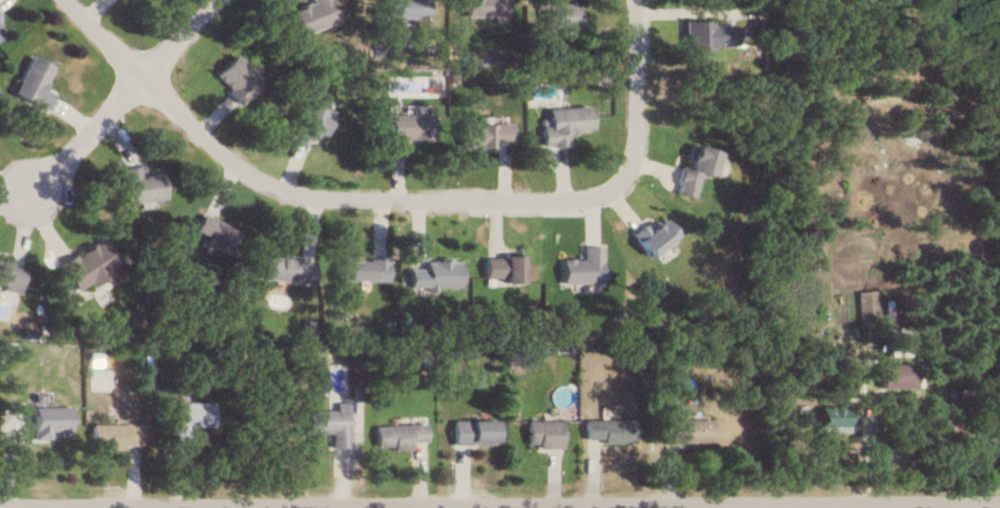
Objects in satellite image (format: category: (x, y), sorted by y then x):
building: (483, 7)
building: (403, 8)
building: (557, 12)
building: (311, 14)
building: (0, 29)
building: (707, 33)
building: (235, 77)
building: (31, 82)
road: (115, 99)
road: (631, 99)
building: (310, 120)
building: (562, 123)
building: (405, 129)
building: (482, 133)
building: (693, 168)
building: (138, 184)
road: (300, 195)
building: (213, 232)
building: (652, 235)
building: (82, 265)
building: (580, 265)
building: (500, 266)
building: (284, 268)
building: (359, 268)
building: (9, 273)
building: (433, 273)
building: (864, 305)
building: (895, 374)
building: (189, 417)
building: (48, 420)
building: (328, 424)
building: (607, 429)
building: (685, 429)
building: (471, 431)
building: (542, 432)
building: (114, 434)
building: (397, 435)
road: (499, 499)
road: (738, 504)

